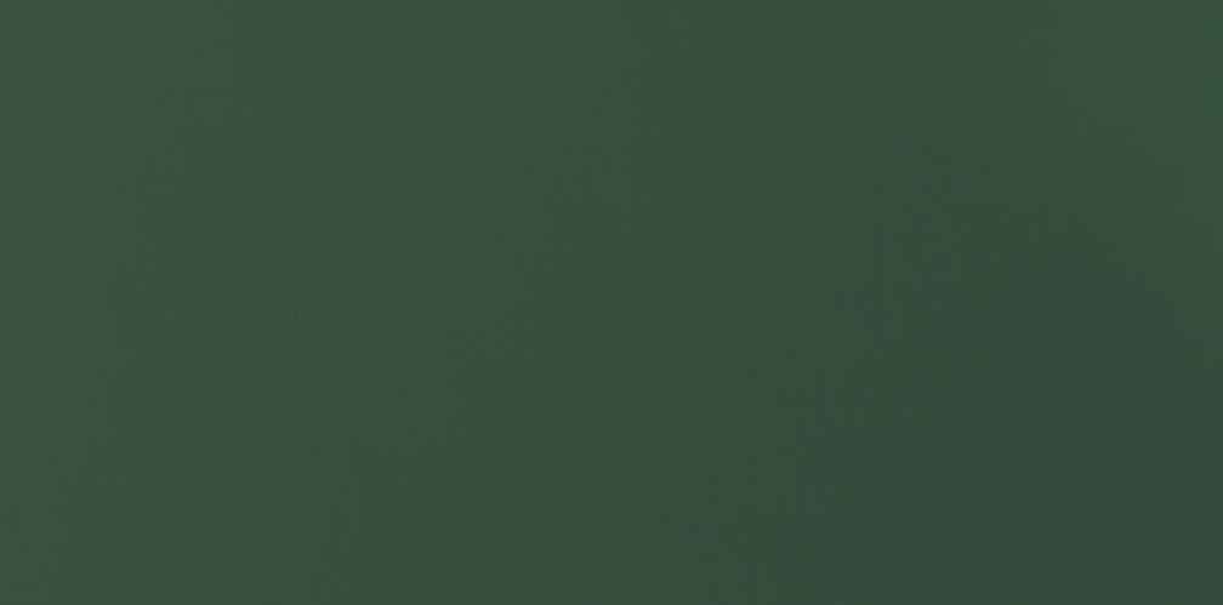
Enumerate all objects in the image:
river: (963, 498)

